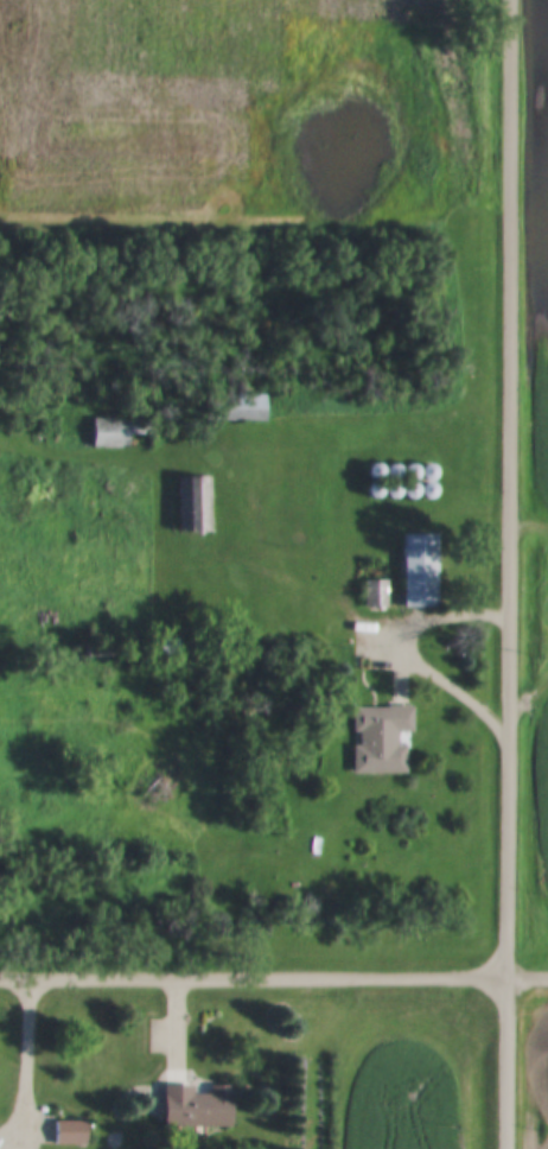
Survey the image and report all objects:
building: (240, 408)
building: (117, 431)
building: (420, 571)
road: (509, 574)
building: (375, 595)
road: (448, 681)
building: (381, 739)
road: (274, 983)
road: (26, 1065)
building: (199, 1105)
building: (71, 1132)

